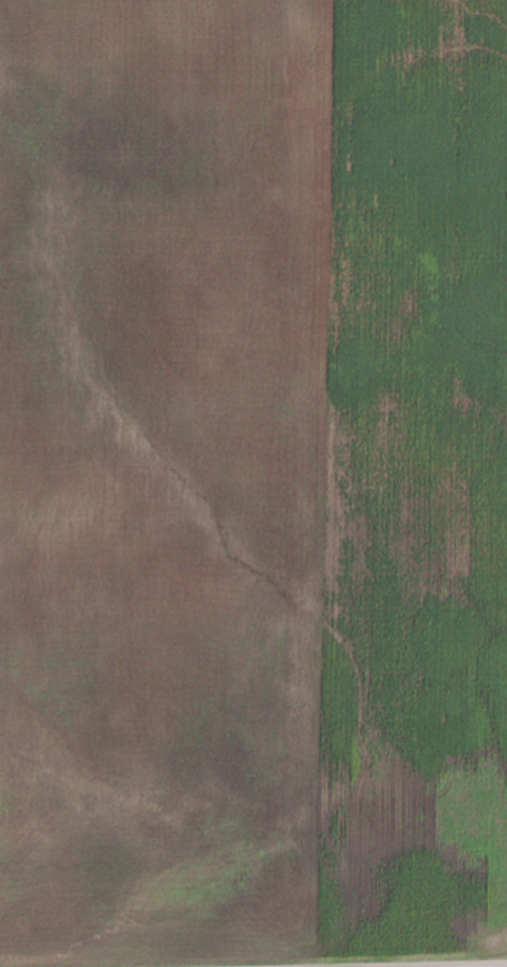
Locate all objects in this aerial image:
road: (355, 964)

